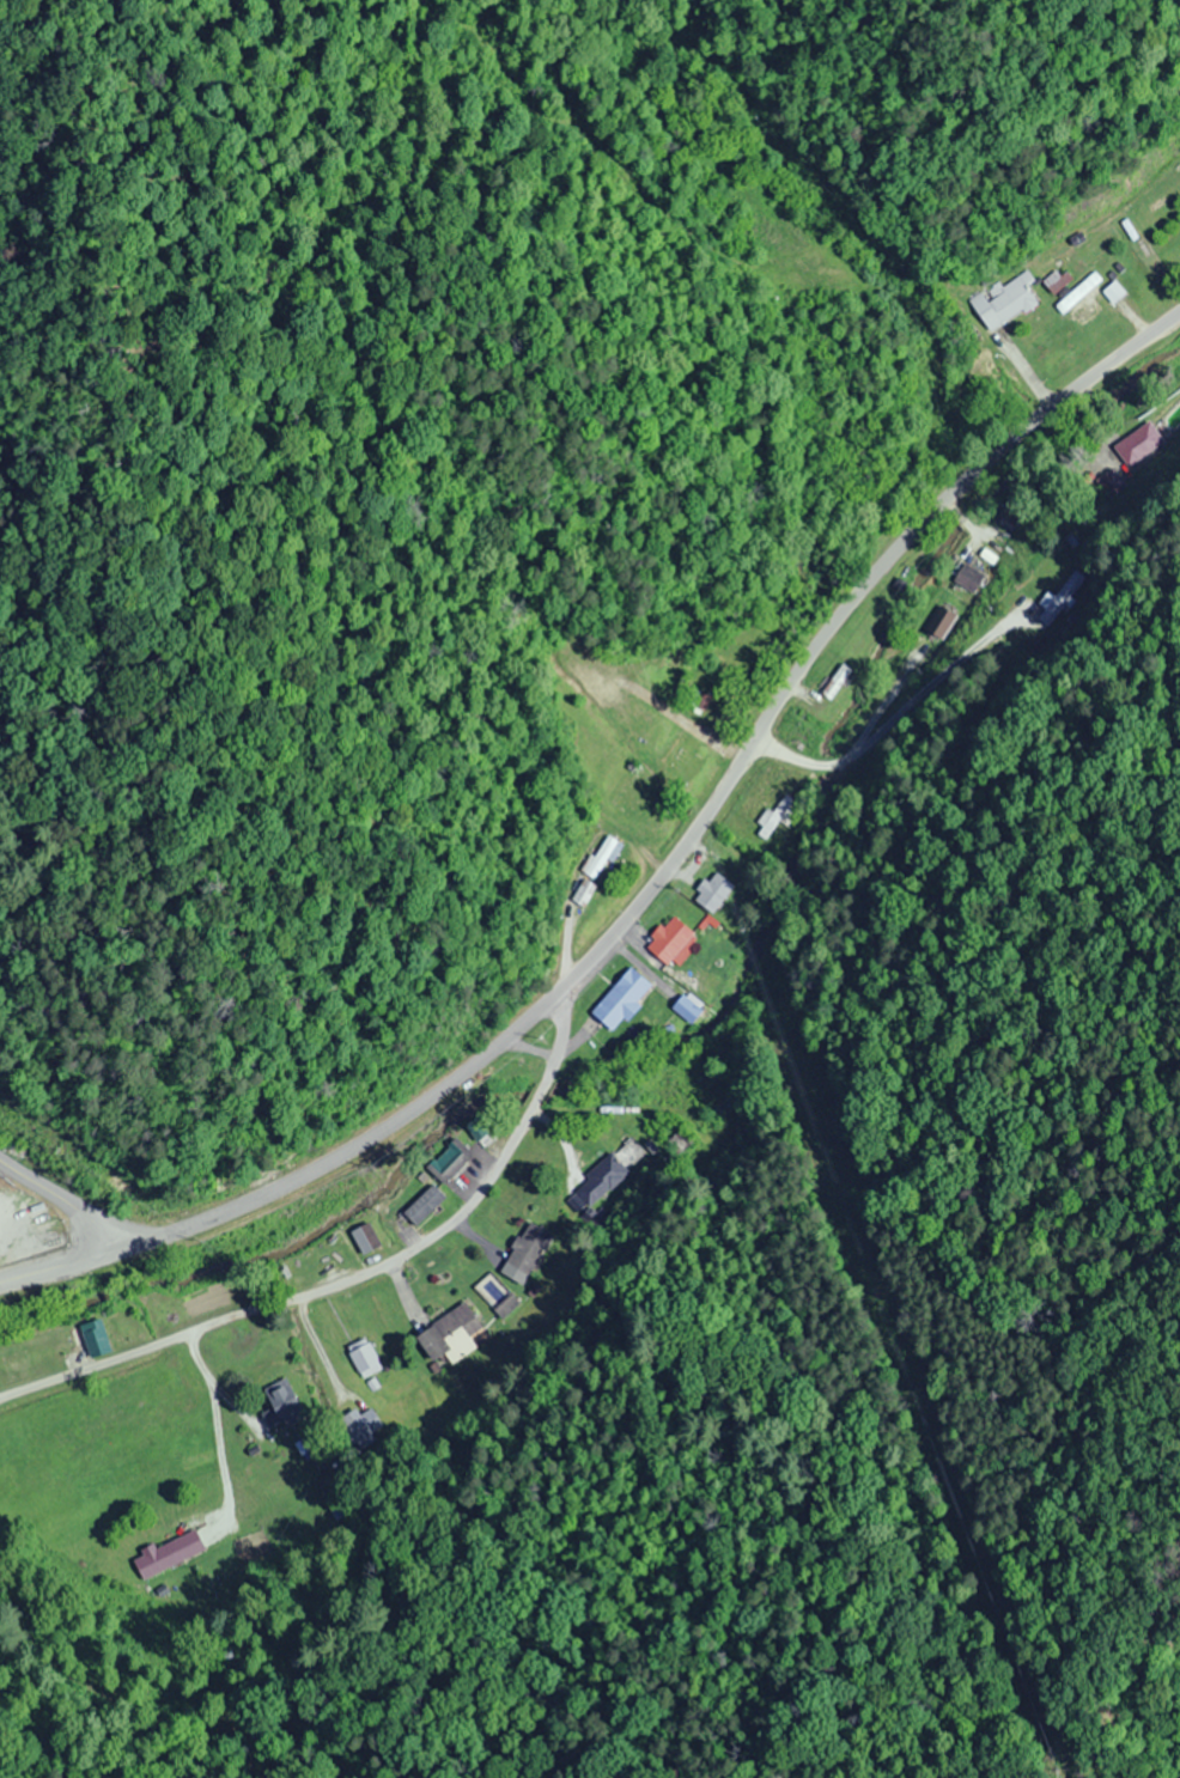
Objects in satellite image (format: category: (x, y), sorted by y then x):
building: (1112, 291)
building: (1004, 302)
building: (1139, 444)
building: (1062, 598)
building: (942, 620)
building: (835, 681)
building: (702, 700)
building: (775, 816)
road: (691, 822)
building: (582, 891)
building: (714, 891)
building: (669, 942)
building: (620, 998)
building: (724, 1113)
building: (448, 1159)
building: (602, 1181)
road: (65, 1201)
building: (422, 1204)
building: (364, 1237)
building: (528, 1249)
road: (63, 1267)
road: (354, 1271)
building: (448, 1336)
building: (365, 1359)
building: (281, 1405)
building: (371, 1427)
building: (166, 1554)

